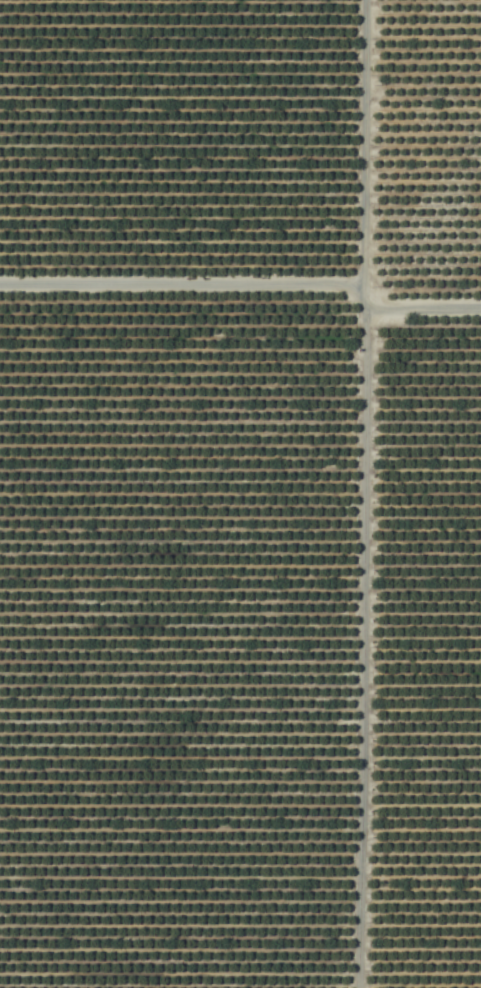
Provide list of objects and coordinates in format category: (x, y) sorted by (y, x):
road: (178, 288)
road: (419, 312)
road: (359, 493)
crop: (240, 494)

